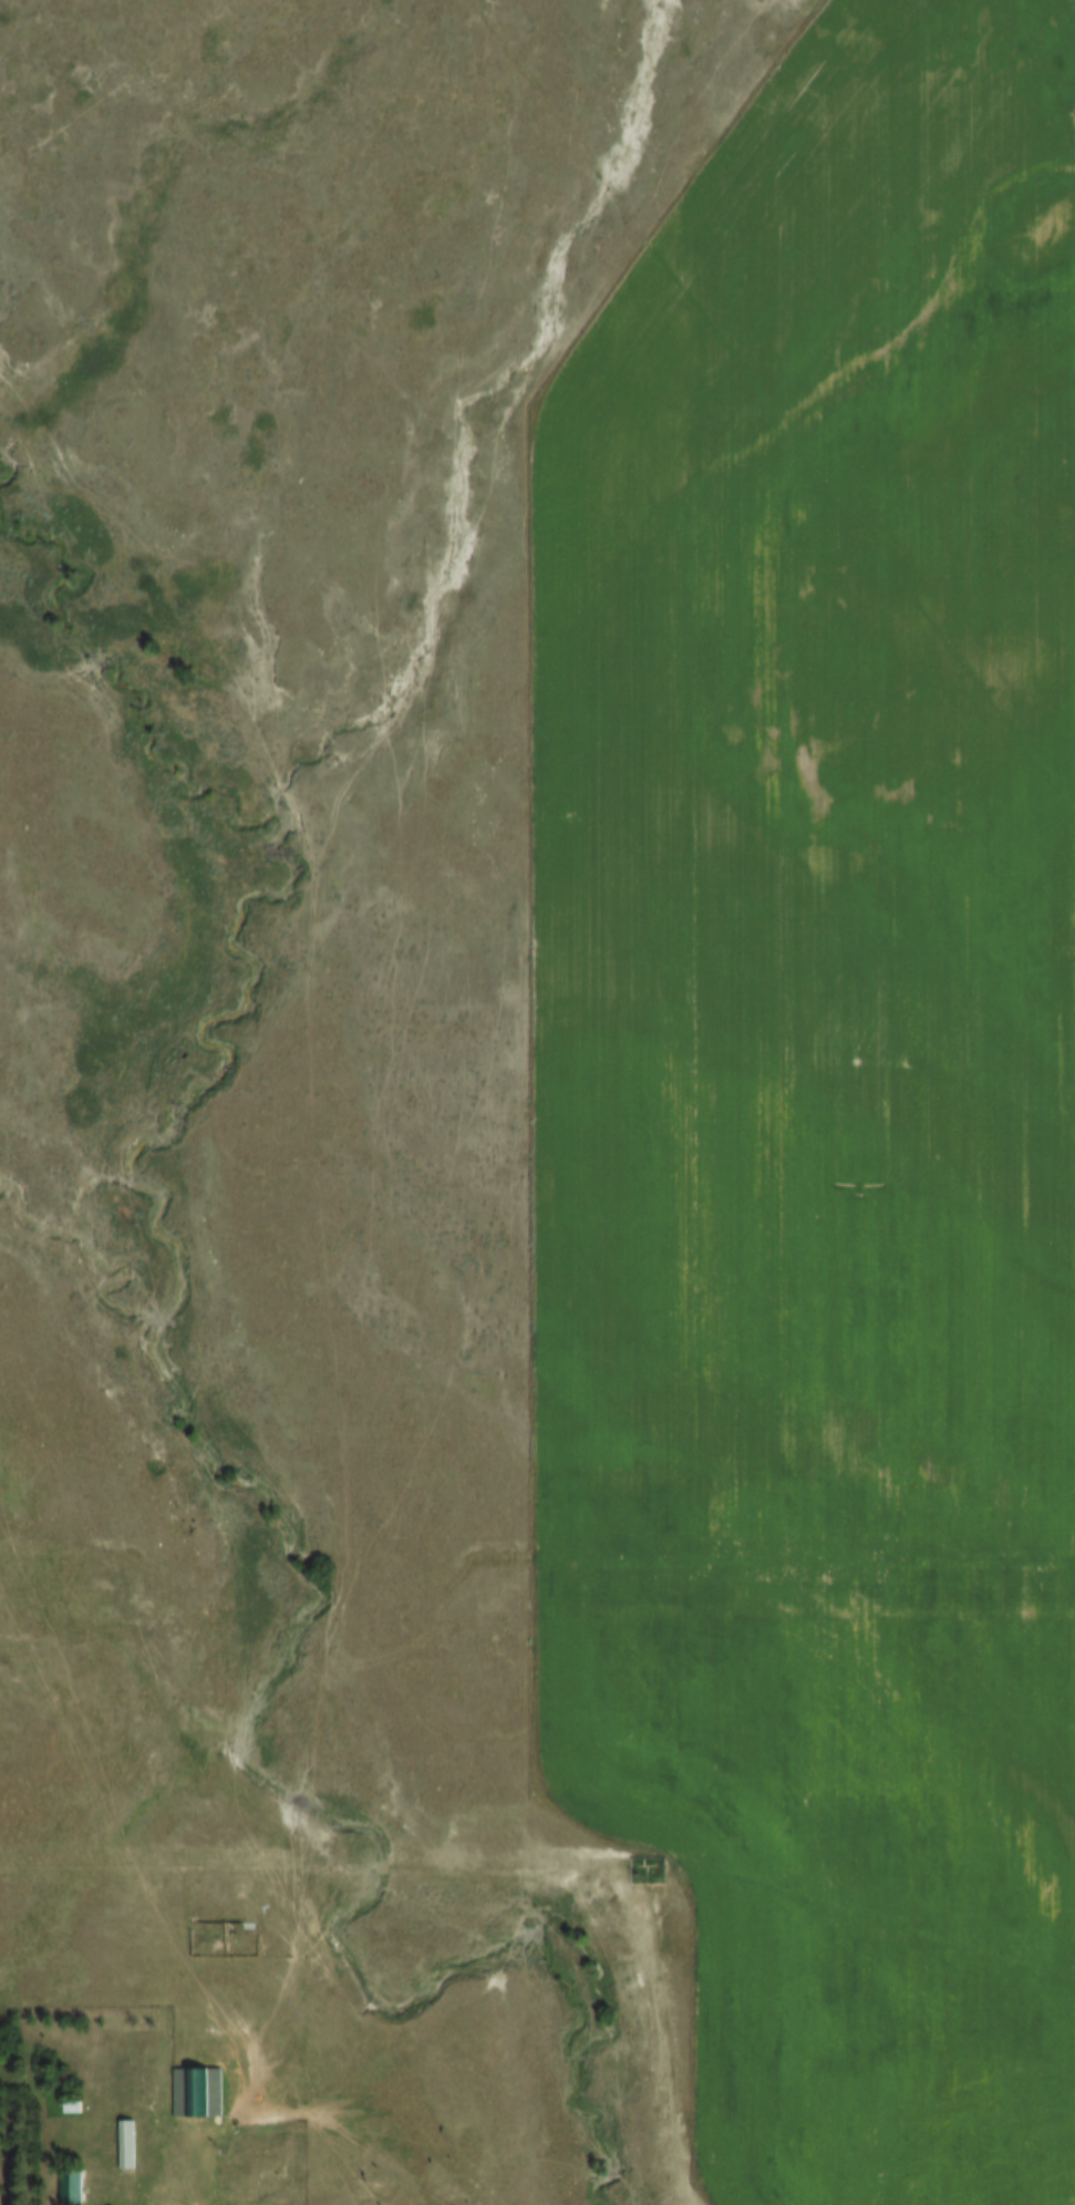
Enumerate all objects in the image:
building: (189, 2093)
building: (126, 2144)
building: (69, 2187)

